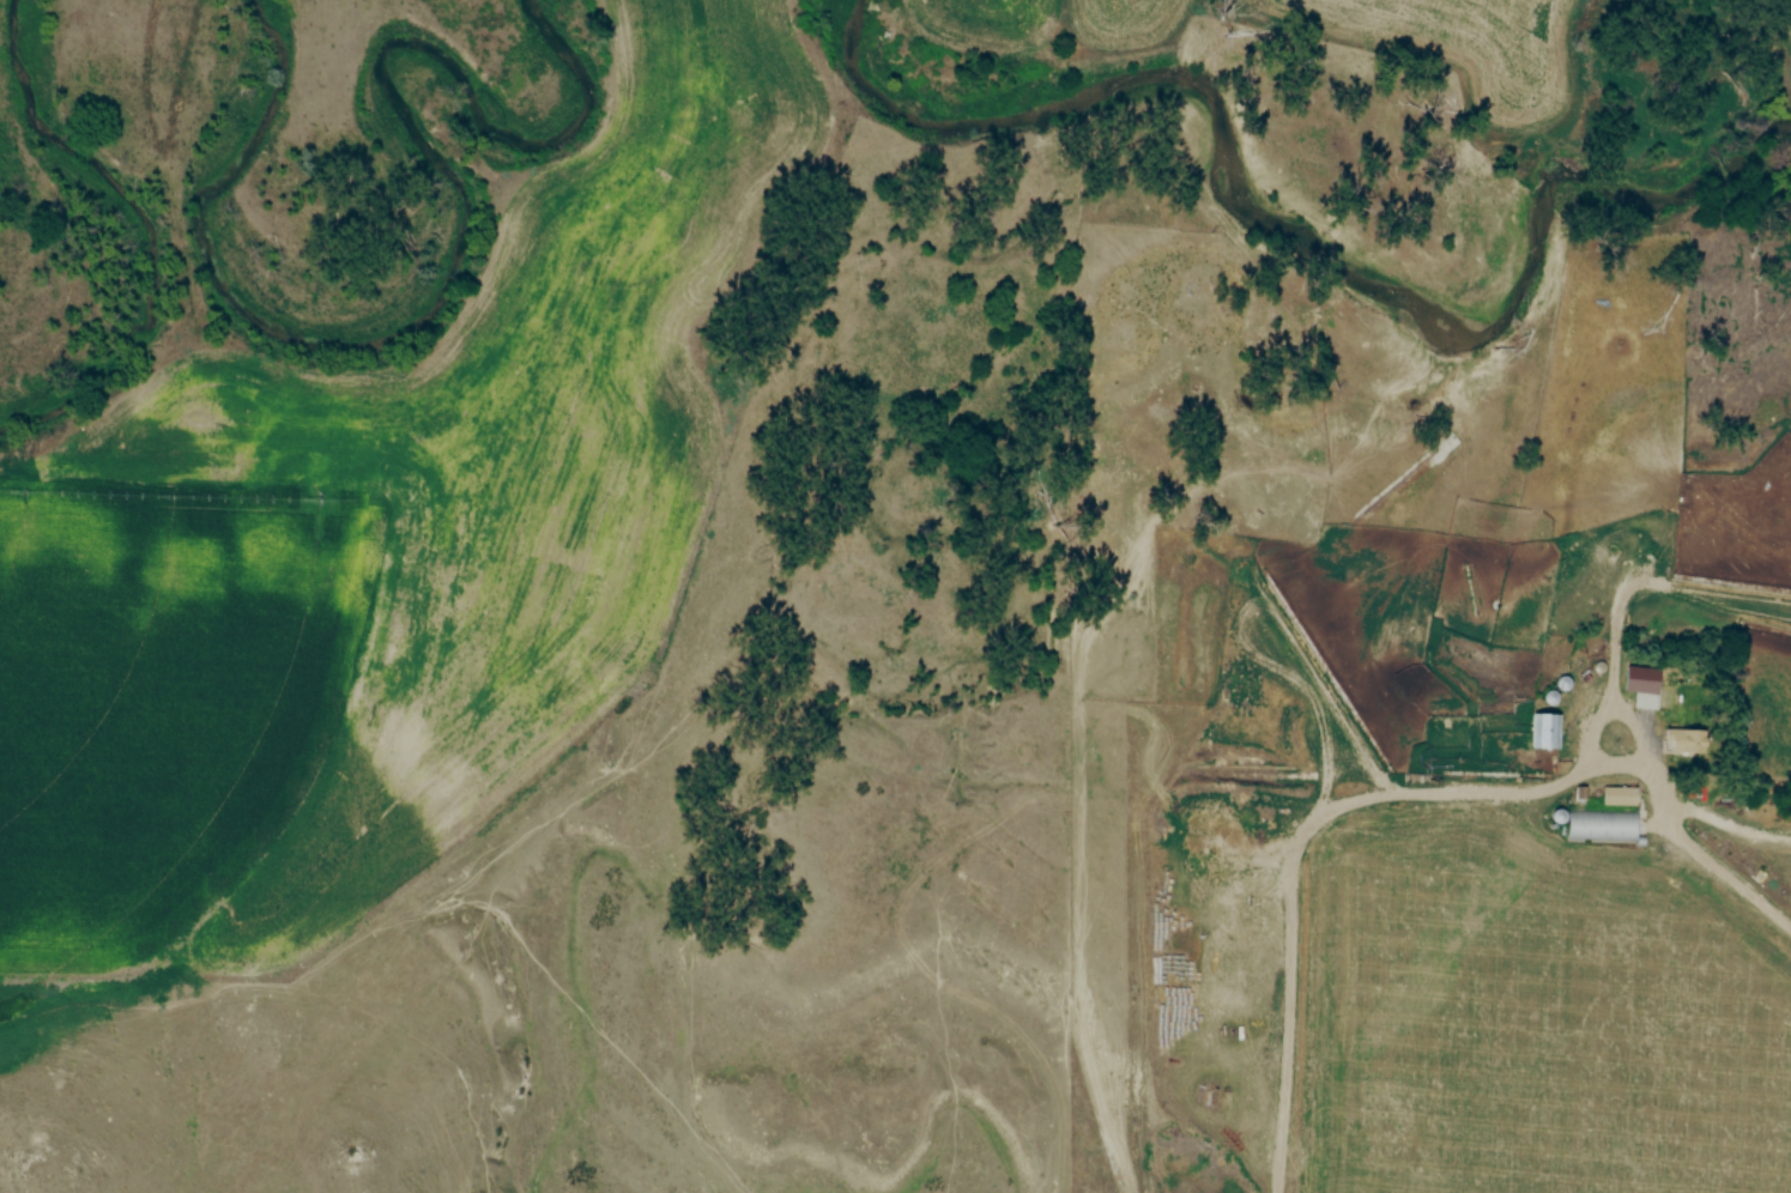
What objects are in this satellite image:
building: (1633, 676)
road: (1618, 708)
building: (1545, 733)
building: (1684, 743)
road: (1404, 793)
building: (1620, 798)
building: (1597, 828)

